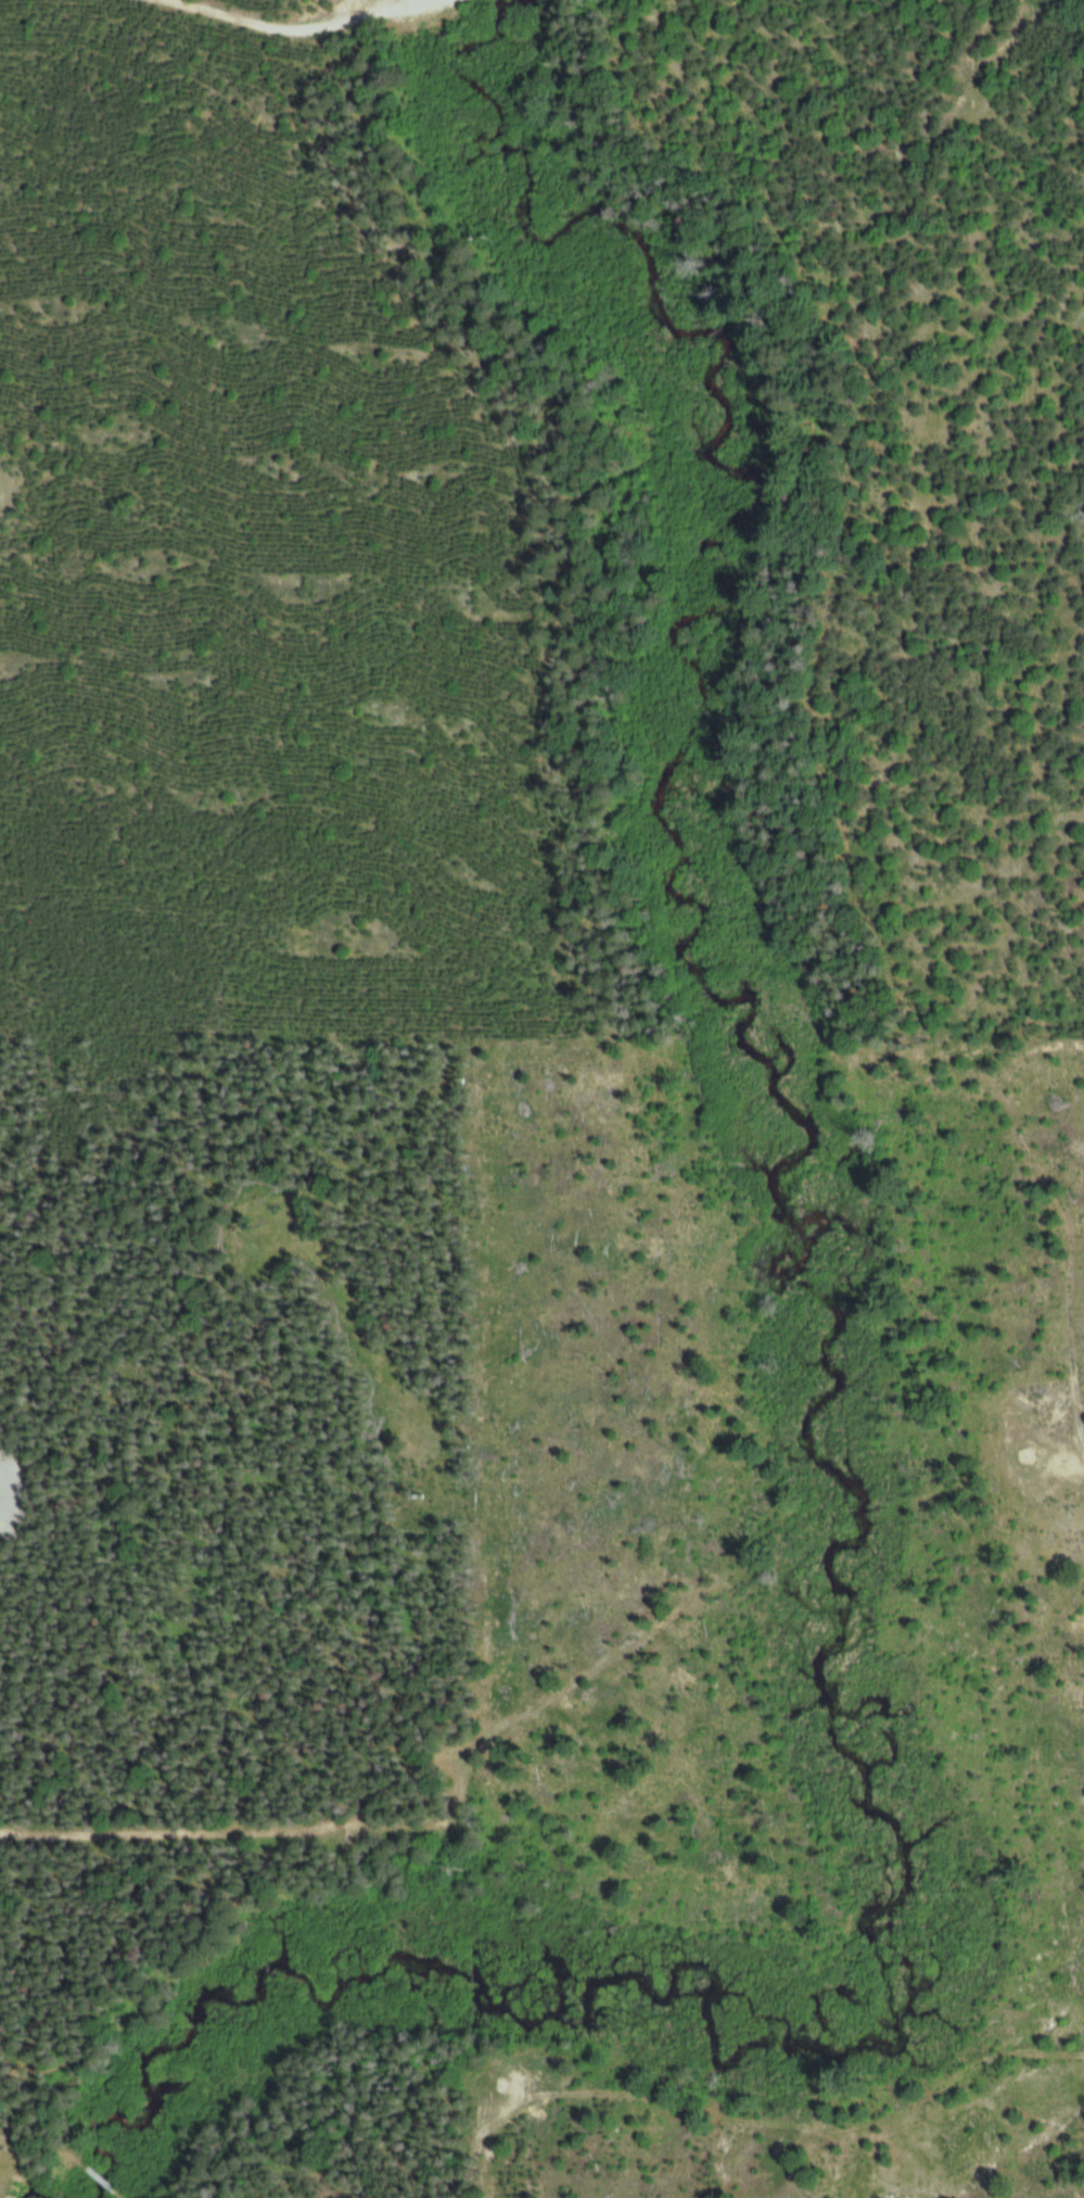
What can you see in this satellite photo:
road: (275, 24)
road: (1061, 1480)
road: (99, 1841)
road: (458, 2186)

